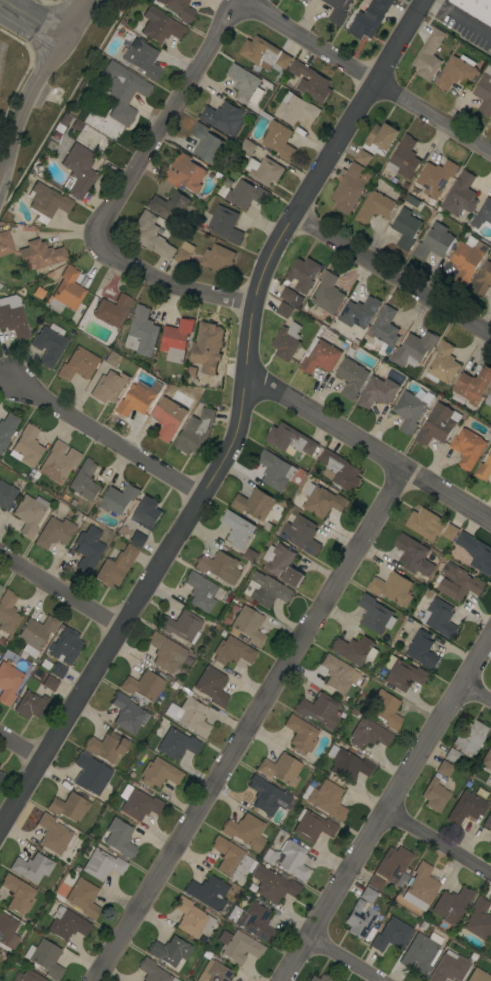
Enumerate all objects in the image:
building: (295, 0)
building: (476, 8)
building: (179, 9)
building: (337, 10)
road: (462, 17)
building: (368, 19)
road: (30, 21)
building: (160, 25)
building: (263, 53)
building: (428, 55)
building: (142, 59)
building: (456, 72)
road: (366, 76)
building: (310, 82)
building: (244, 83)
road: (34, 84)
building: (127, 84)
building: (484, 92)
building: (295, 109)
road: (164, 117)
building: (224, 118)
building: (62, 123)
building: (77, 125)
building: (278, 139)
building: (380, 139)
building: (206, 143)
building: (247, 147)
building: (362, 157)
building: (404, 158)
building: (78, 170)
building: (263, 170)
building: (185, 173)
building: (435, 177)
building: (348, 188)
building: (246, 194)
building: (460, 195)
building: (411, 200)
building: (47, 202)
building: (169, 206)
building: (374, 207)
building: (482, 214)
building: (225, 224)
building: (405, 228)
building: (152, 235)
building: (469, 239)
building: (434, 242)
building: (5, 243)
building: (183, 253)
building: (41, 254)
building: (217, 258)
building: (465, 262)
building: (303, 274)
road: (391, 275)
building: (482, 279)
road: (167, 281)
building: (0, 285)
building: (67, 290)
building: (328, 294)
building: (287, 295)
building: (113, 310)
building: (284, 310)
building: (359, 312)
building: (13, 317)
building: (383, 329)
building: (142, 332)
building: (176, 340)
building: (286, 341)
building: (49, 344)
building: (207, 347)
building: (414, 349)
building: (319, 356)
building: (112, 359)
building: (78, 364)
building: (443, 364)
building: (351, 377)
building: (473, 386)
building: (108, 387)
building: (377, 392)
building: (137, 399)
building: (488, 400)
building: (408, 411)
building: (490, 413)
building: (168, 417)
road: (236, 421)
building: (437, 424)
building: (7, 429)
building: (195, 432)
road: (104, 437)
building: (290, 440)
road: (367, 446)
building: (27, 447)
building: (467, 448)
building: (59, 462)
building: (483, 469)
building: (275, 470)
building: (339, 470)
building: (85, 481)
building: (6, 495)
building: (118, 499)
building: (318, 501)
building: (254, 504)
building: (147, 512)
building: (29, 514)
building: (425, 523)
building: (237, 530)
building: (55, 532)
building: (450, 532)
building: (301, 535)
building: (137, 539)
building: (88, 548)
building: (476, 552)
building: (250, 555)
building: (414, 555)
building: (282, 564)
building: (116, 566)
building: (219, 567)
building: (457, 582)
building: (0, 586)
building: (392, 588)
road: (59, 589)
building: (266, 590)
building: (200, 592)
building: (8, 614)
building: (375, 615)
building: (439, 618)
building: (182, 626)
building: (249, 626)
building: (36, 634)
building: (65, 645)
building: (422, 649)
building: (354, 650)
building: (233, 651)
building: (166, 652)
building: (58, 670)
building: (403, 674)
building: (337, 677)
building: (8, 682)
building: (50, 683)
building: (144, 685)
building: (212, 686)
road: (477, 692)
building: (31, 705)
building: (386, 709)
building: (319, 710)
building: (128, 714)
building: (192, 717)
road: (246, 724)
building: (301, 734)
building: (369, 734)
building: (470, 736)
building: (175, 742)
road: (20, 745)
building: (107, 746)
building: (452, 755)
building: (487, 759)
building: (347, 764)
building: (280, 768)
building: (445, 768)
building: (159, 773)
building: (91, 774)
building: (1, 775)
building: (435, 795)
building: (267, 796)
building: (327, 799)
building: (139, 803)
building: (69, 804)
building: (466, 808)
road: (387, 809)
building: (487, 821)
building: (313, 826)
building: (246, 831)
building: (54, 834)
building: (120, 838)
road: (439, 842)
building: (489, 842)
building: (233, 859)
building: (289, 859)
building: (102, 864)
building: (32, 867)
building: (390, 869)
building: (274, 886)
building: (421, 887)
building: (208, 893)
building: (18, 894)
building: (368, 895)
building: (83, 898)
building: (452, 905)
building: (192, 918)
building: (359, 919)
building: (479, 919)
building: (253, 920)
building: (66, 923)
building: (423, 926)
building: (8, 932)
building: (391, 935)
building: (54, 939)
building: (490, 943)
building: (239, 946)
building: (170, 951)
building: (420, 954)
building: (45, 958)
road: (346, 959)
building: (449, 968)
building: (153, 971)
building: (215, 973)
building: (29, 976)
building: (479, 976)
building: (320, 978)

